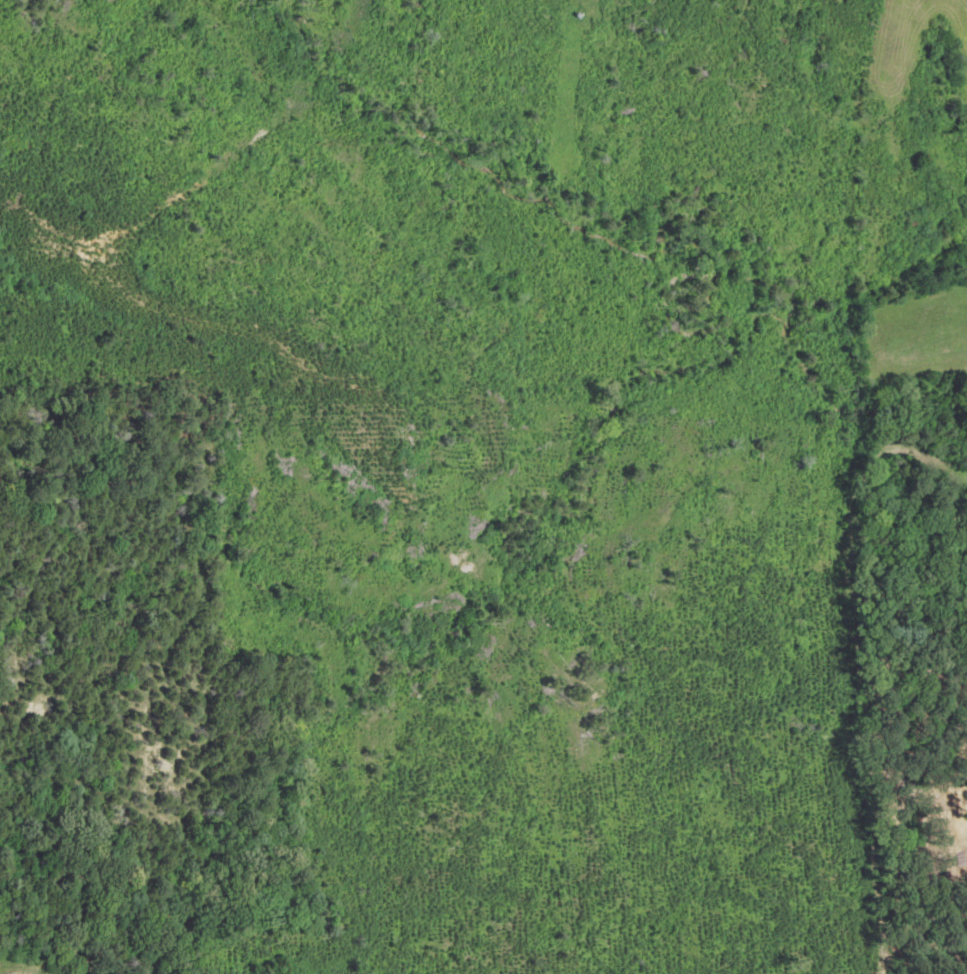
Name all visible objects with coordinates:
road: (887, 946)

